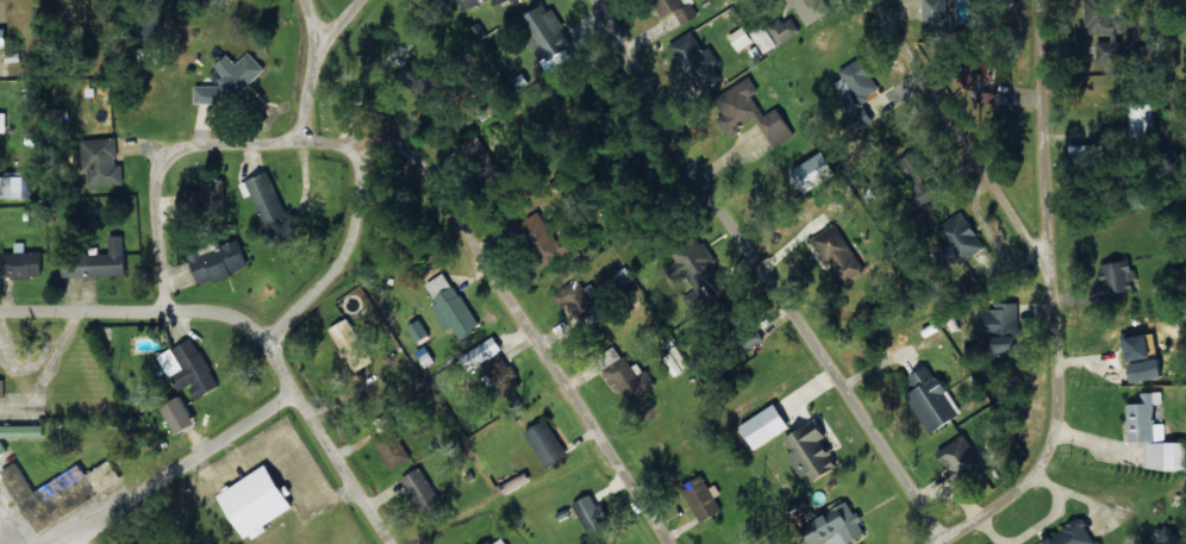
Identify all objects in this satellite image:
building: (473, 1)
building: (505, 1)
road: (311, 7)
road: (335, 7)
building: (680, 8)
building: (814, 8)
building: (931, 10)
building: (547, 32)
building: (778, 32)
building: (5, 37)
building: (743, 37)
building: (1109, 45)
building: (698, 58)
building: (231, 81)
building: (431, 85)
building: (859, 92)
road: (296, 99)
building: (754, 113)
building: (1140, 120)
building: (4, 121)
road: (863, 132)
building: (1081, 154)
building: (105, 162)
building: (816, 170)
building: (920, 177)
building: (15, 186)
building: (198, 198)
building: (271, 204)
road: (167, 212)
building: (961, 236)
road: (732, 238)
building: (550, 239)
building: (839, 251)
building: (99, 261)
building: (24, 262)
building: (220, 262)
building: (698, 271)
building: (623, 276)
road: (311, 279)
building: (1112, 279)
building: (579, 298)
building: (454, 306)
road: (985, 306)
road: (486, 318)
building: (1003, 326)
building: (419, 330)
building: (347, 336)
road: (236, 342)
building: (1132, 346)
building: (483, 352)
building: (192, 367)
building: (1140, 369)
building: (631, 377)
building: (2, 387)
building: (934, 399)
building: (182, 415)
building: (768, 425)
building: (19, 432)
building: (548, 443)
building: (393, 448)
building: (813, 450)
building: (1165, 456)
building: (962, 457)
building: (106, 476)
building: (25, 487)
building: (423, 489)
road: (181, 493)
building: (705, 499)
building: (260, 500)
building: (594, 515)
road: (13, 523)
building: (845, 524)
building: (1069, 534)
building: (1165, 534)
building: (500, 540)

